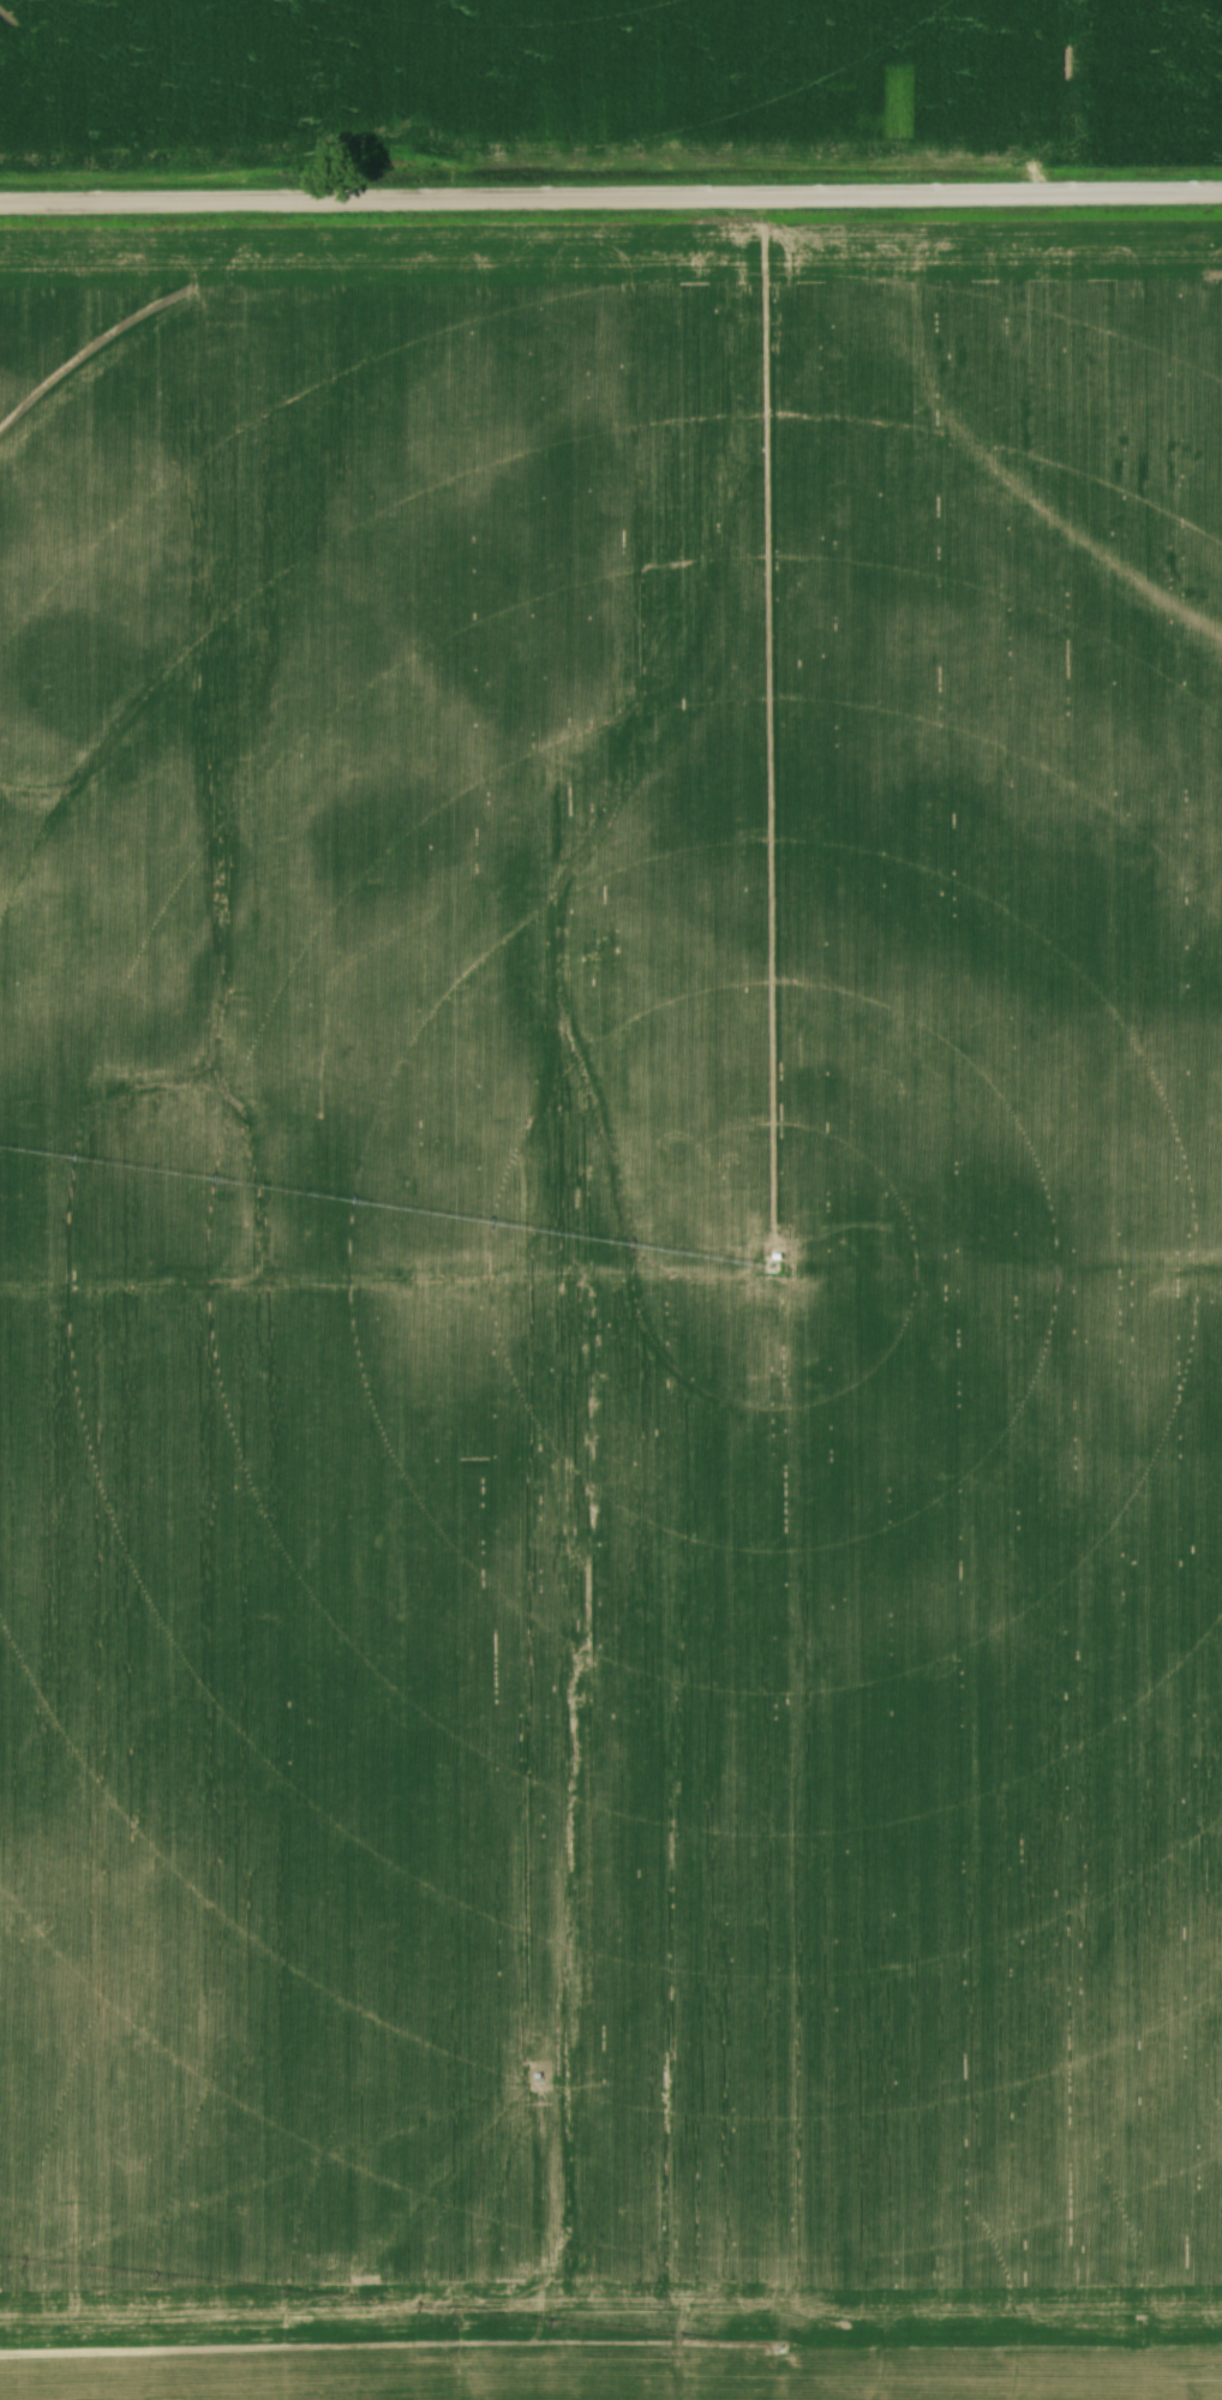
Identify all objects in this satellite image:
road: (611, 202)
road: (568, 2286)

